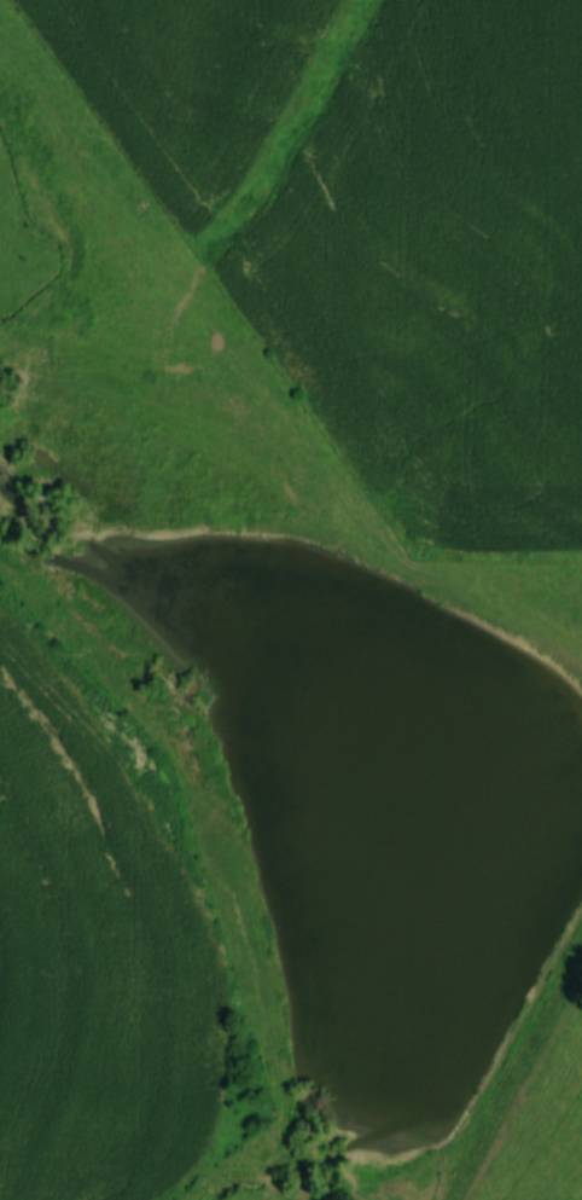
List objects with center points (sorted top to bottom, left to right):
dam: (525, 1094)

